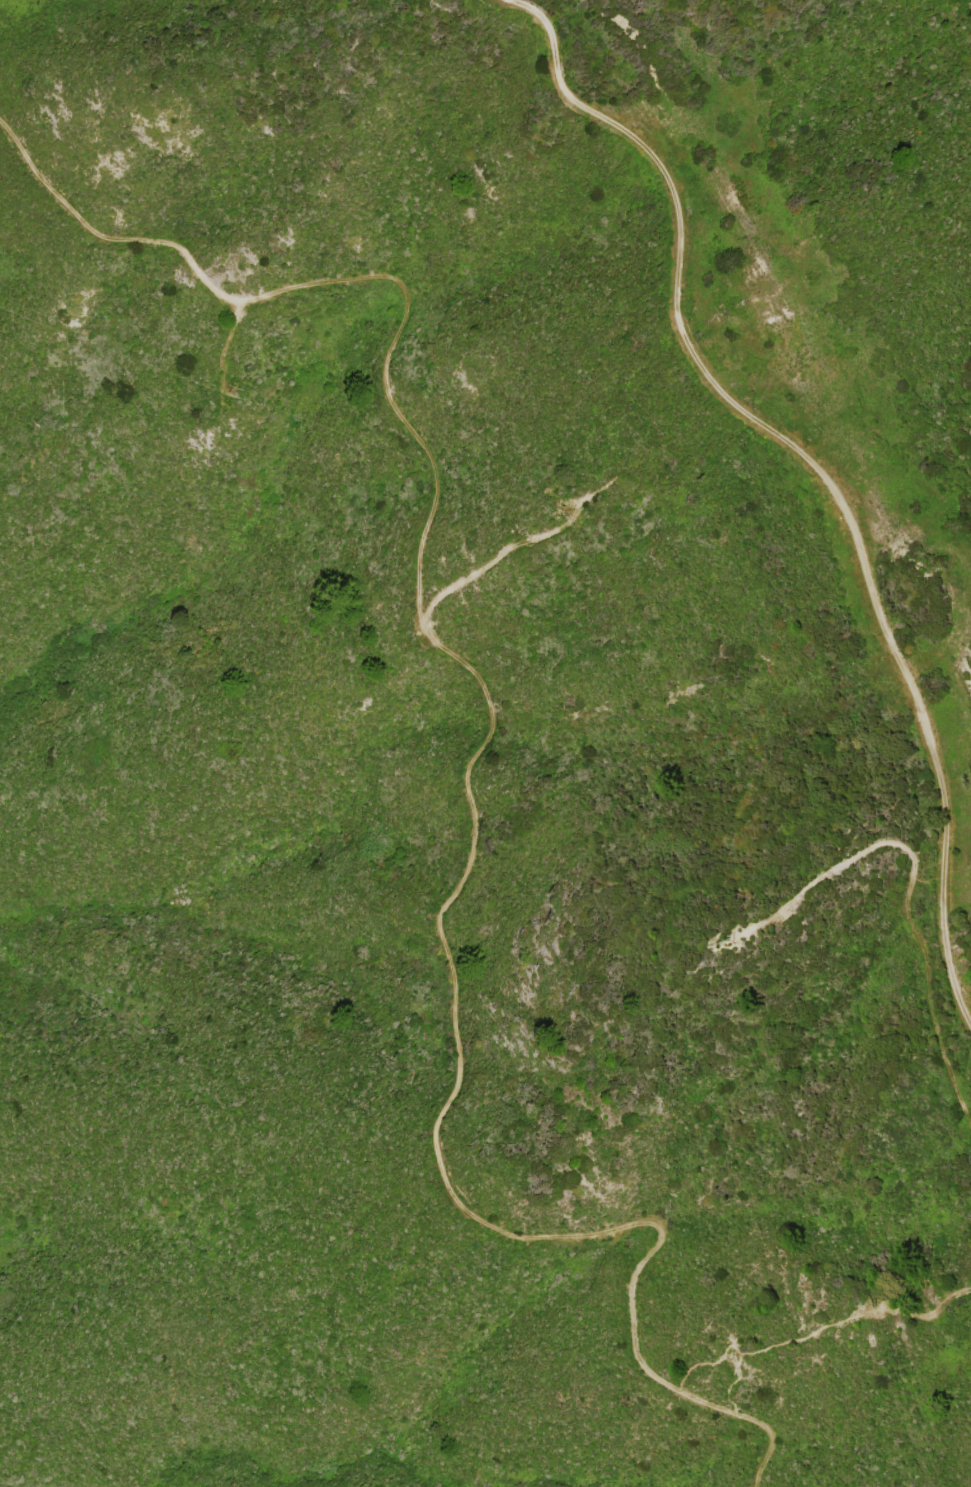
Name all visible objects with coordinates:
road: (806, 461)
road: (473, 760)
park: (86, 826)

